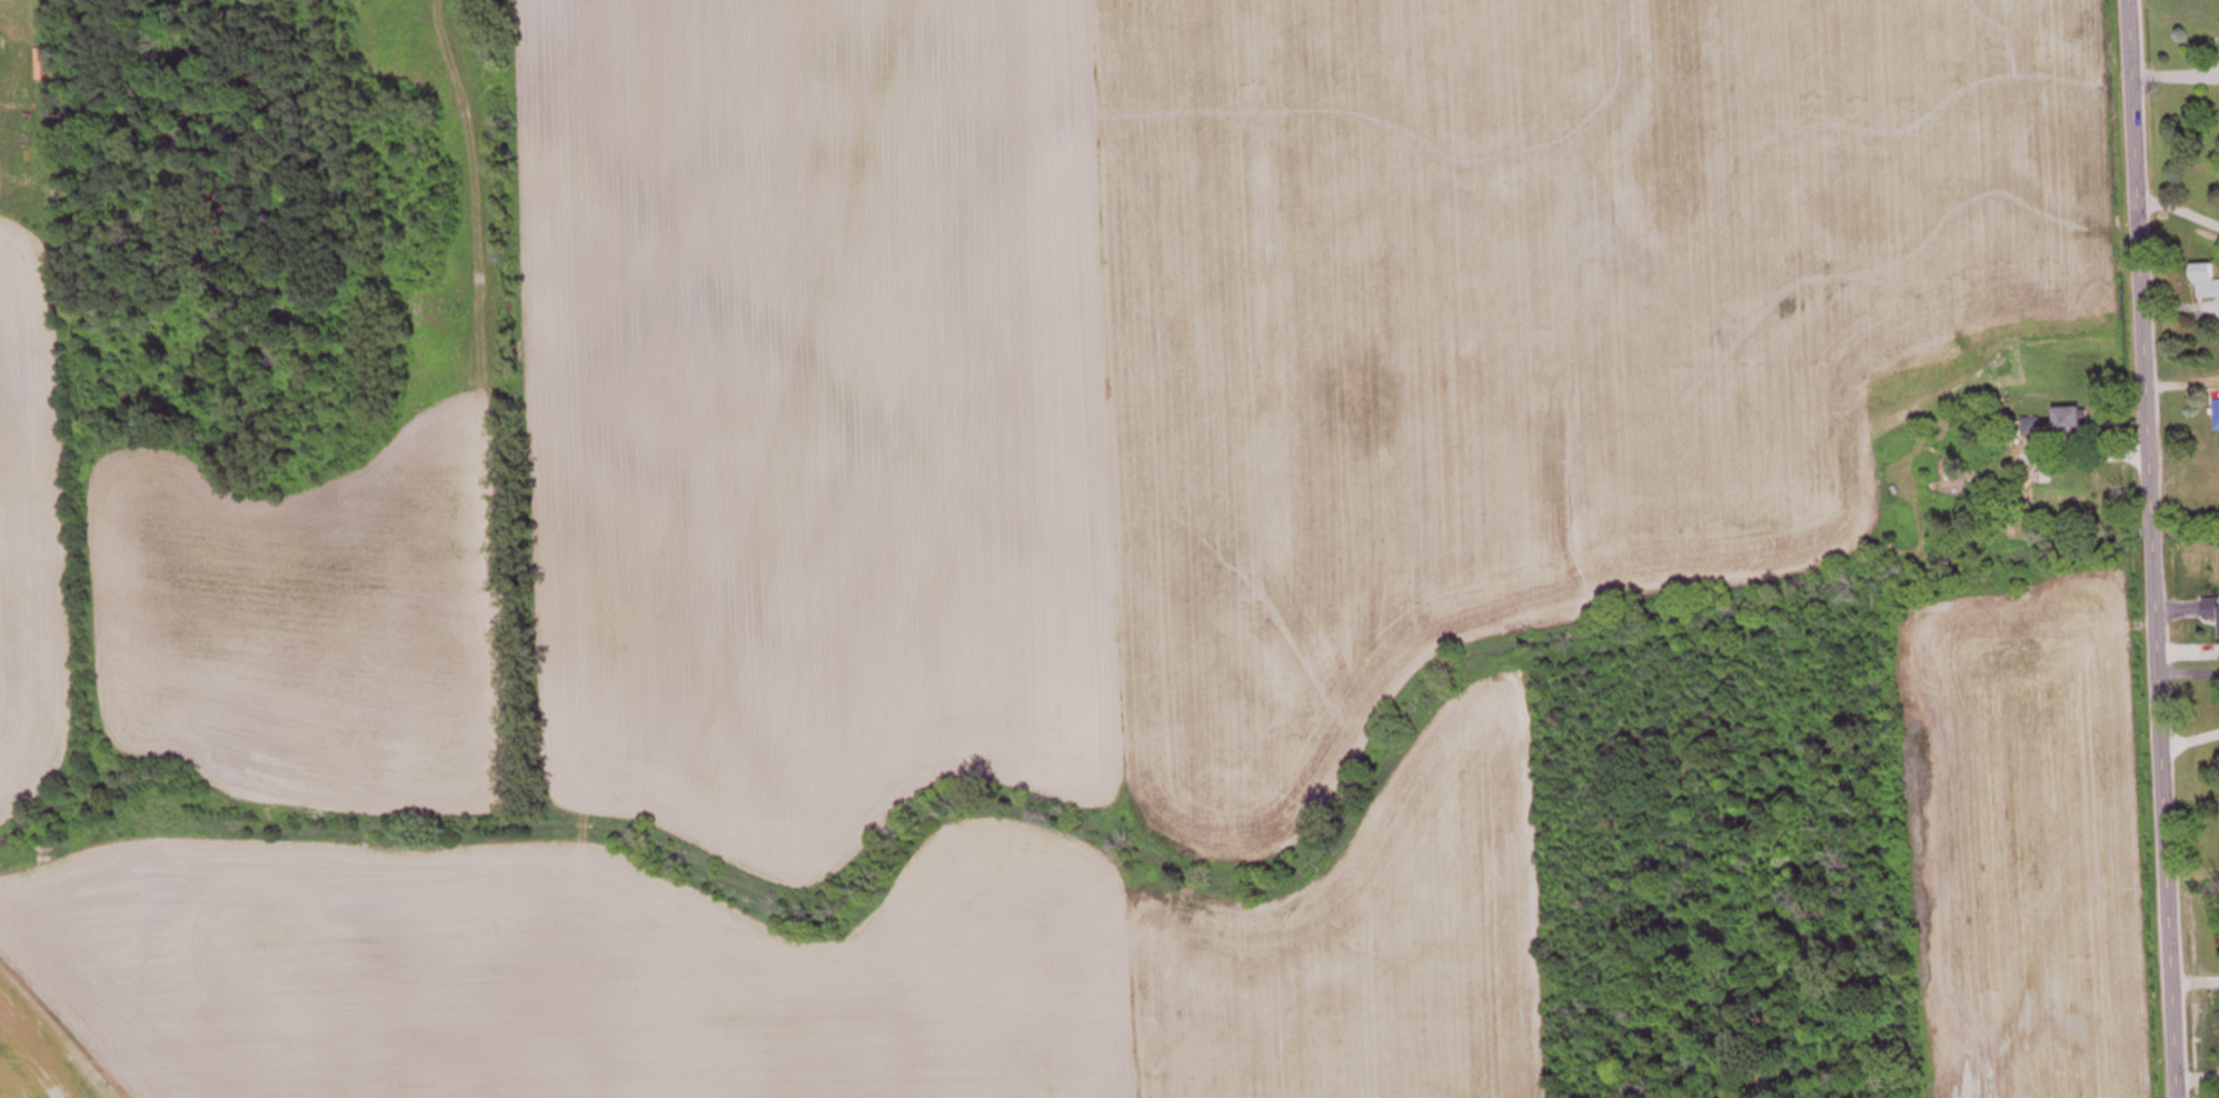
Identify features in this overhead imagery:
building: (2208, 282)
building: (2218, 413)
building: (2073, 421)
road: (2145, 549)
building: (2212, 610)

